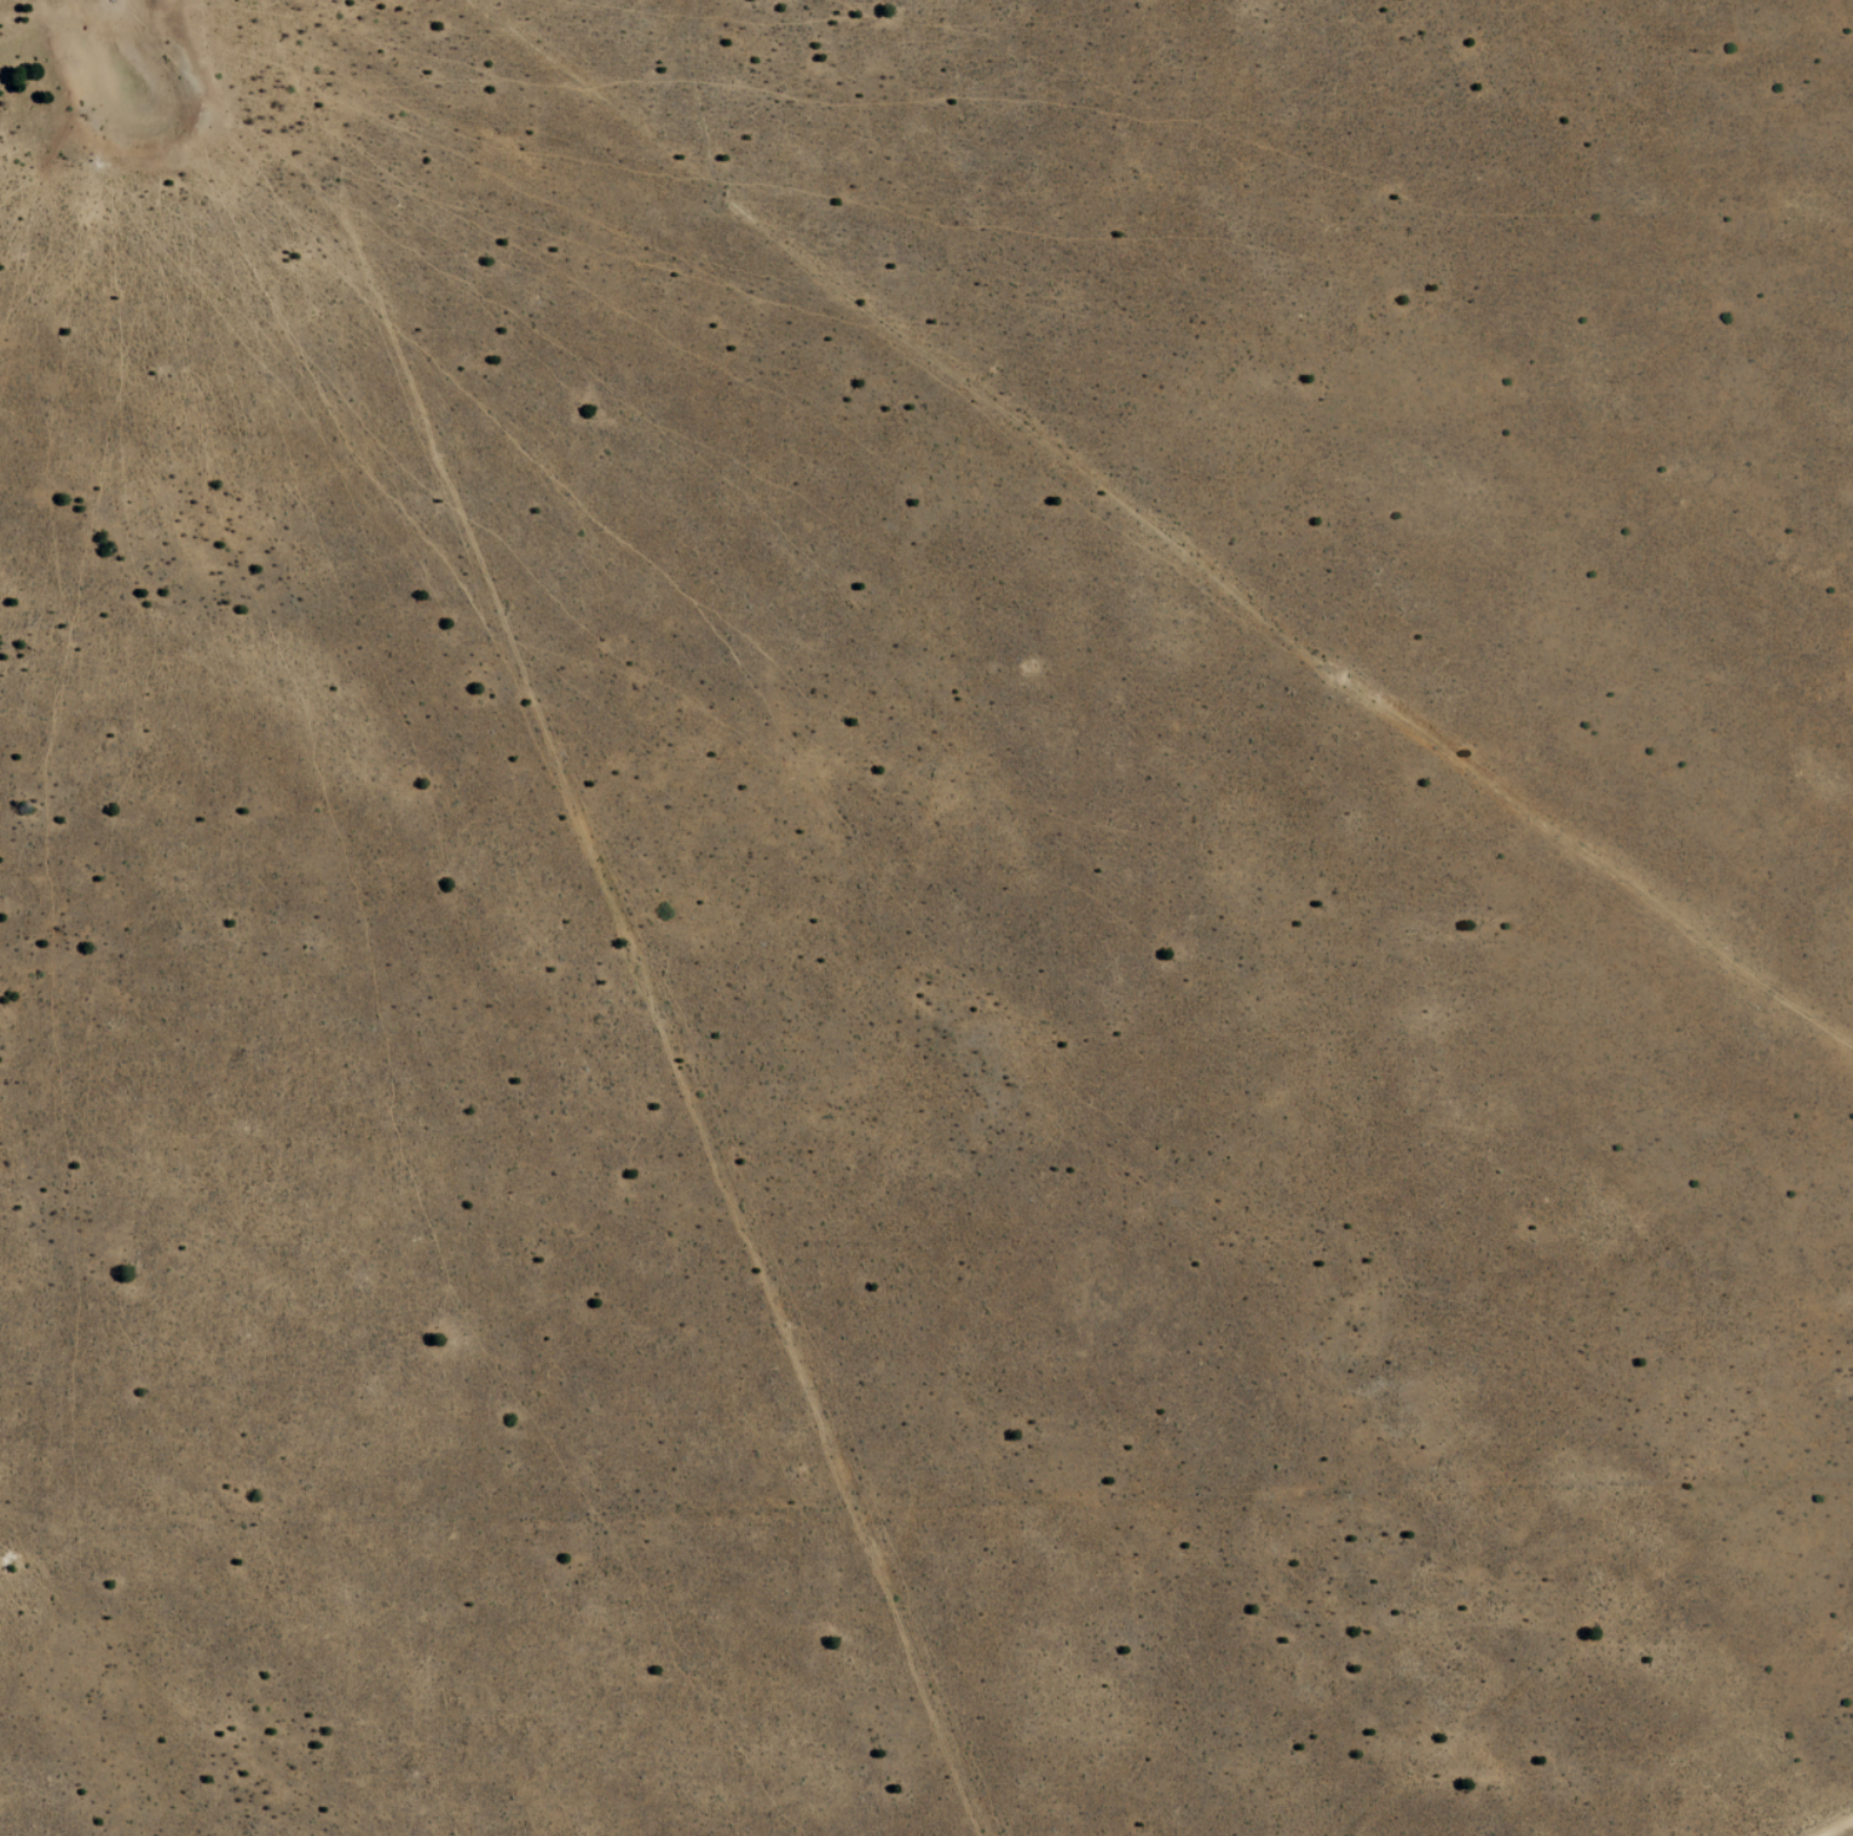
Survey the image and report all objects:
road: (687, 39)
road: (1172, 507)
road: (1834, 1825)

